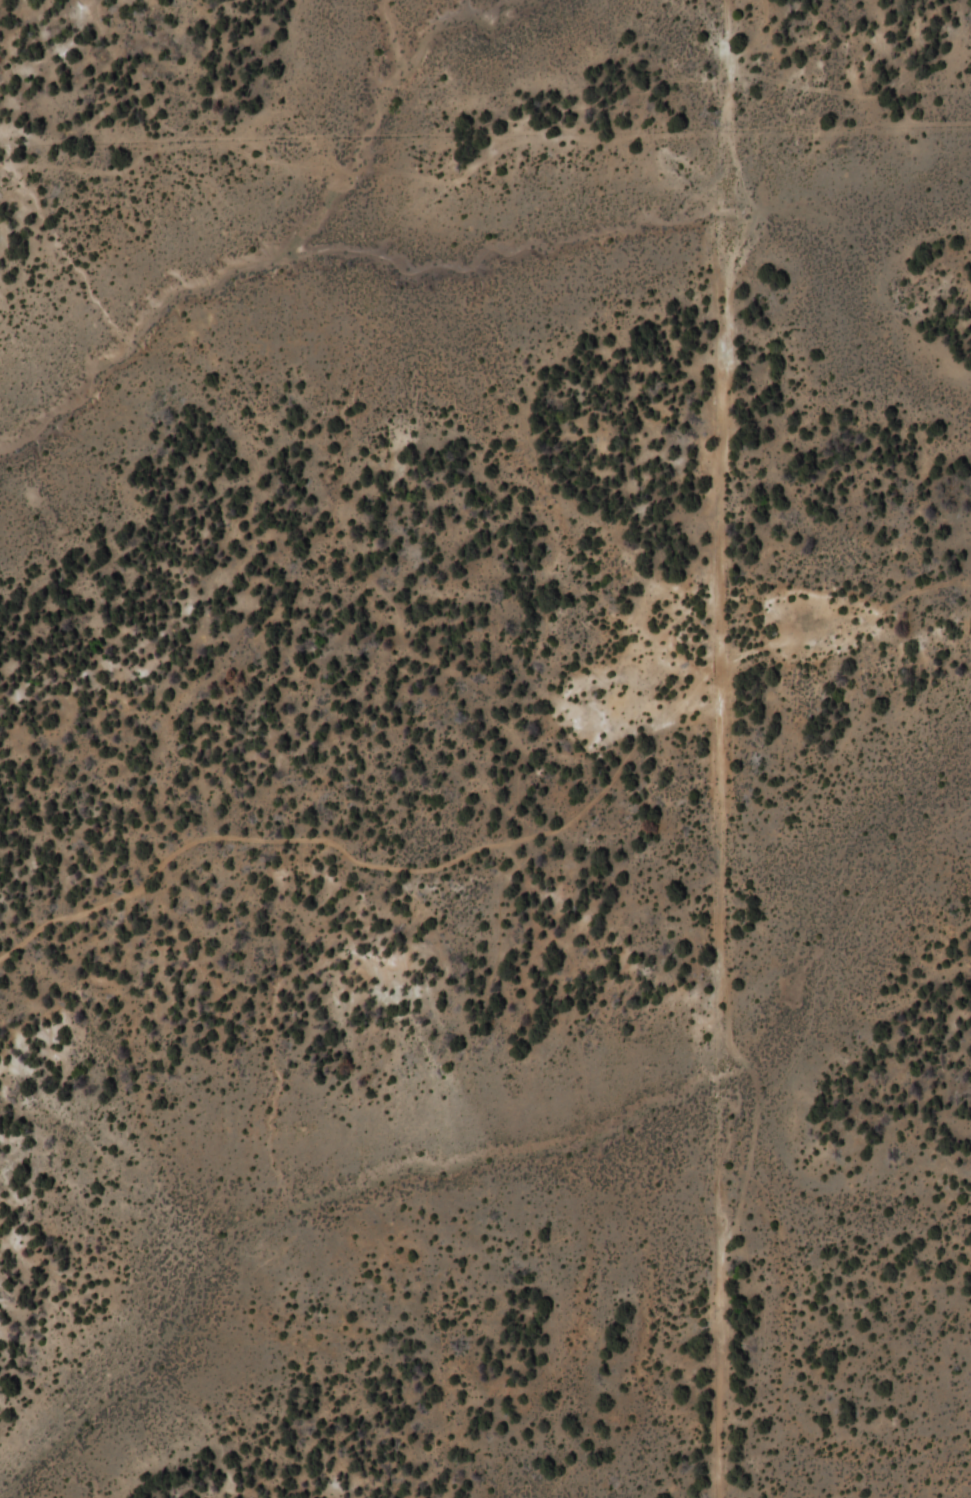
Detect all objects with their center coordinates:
road: (719, 1372)

